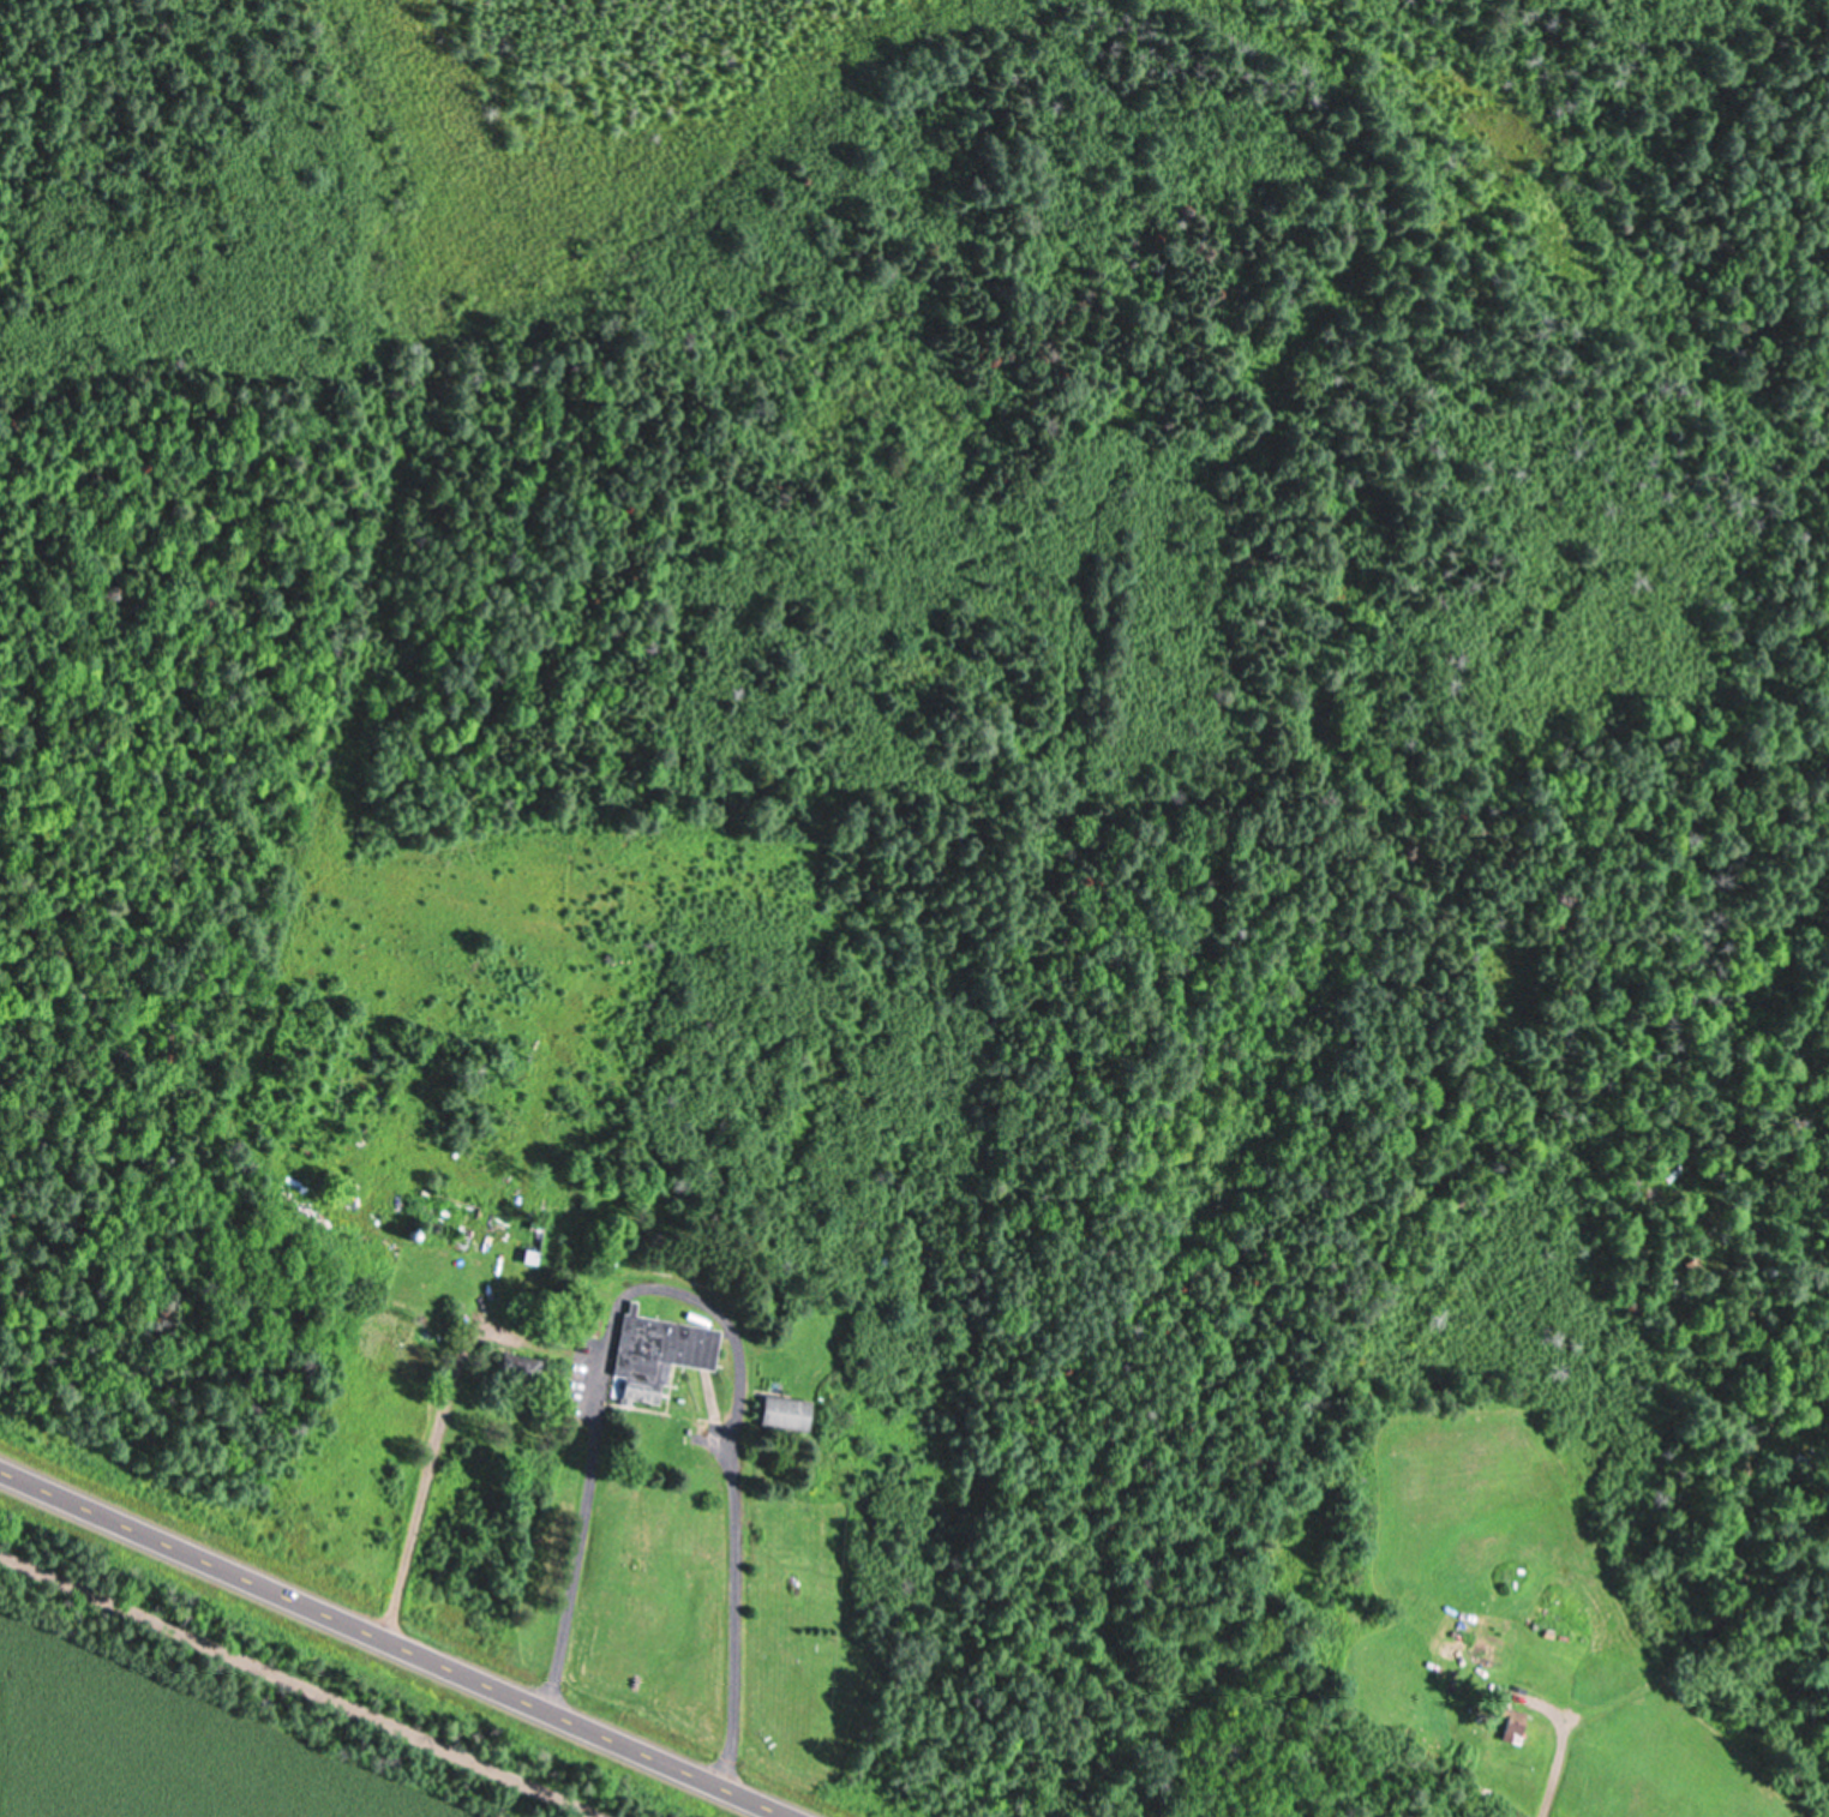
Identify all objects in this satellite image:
building: (534, 1240)
building: (590, 1320)
building: (658, 1353)
building: (520, 1366)
building: (786, 1411)
road: (728, 1629)
road: (396, 1642)
road: (305, 1683)
building: (1513, 1726)

